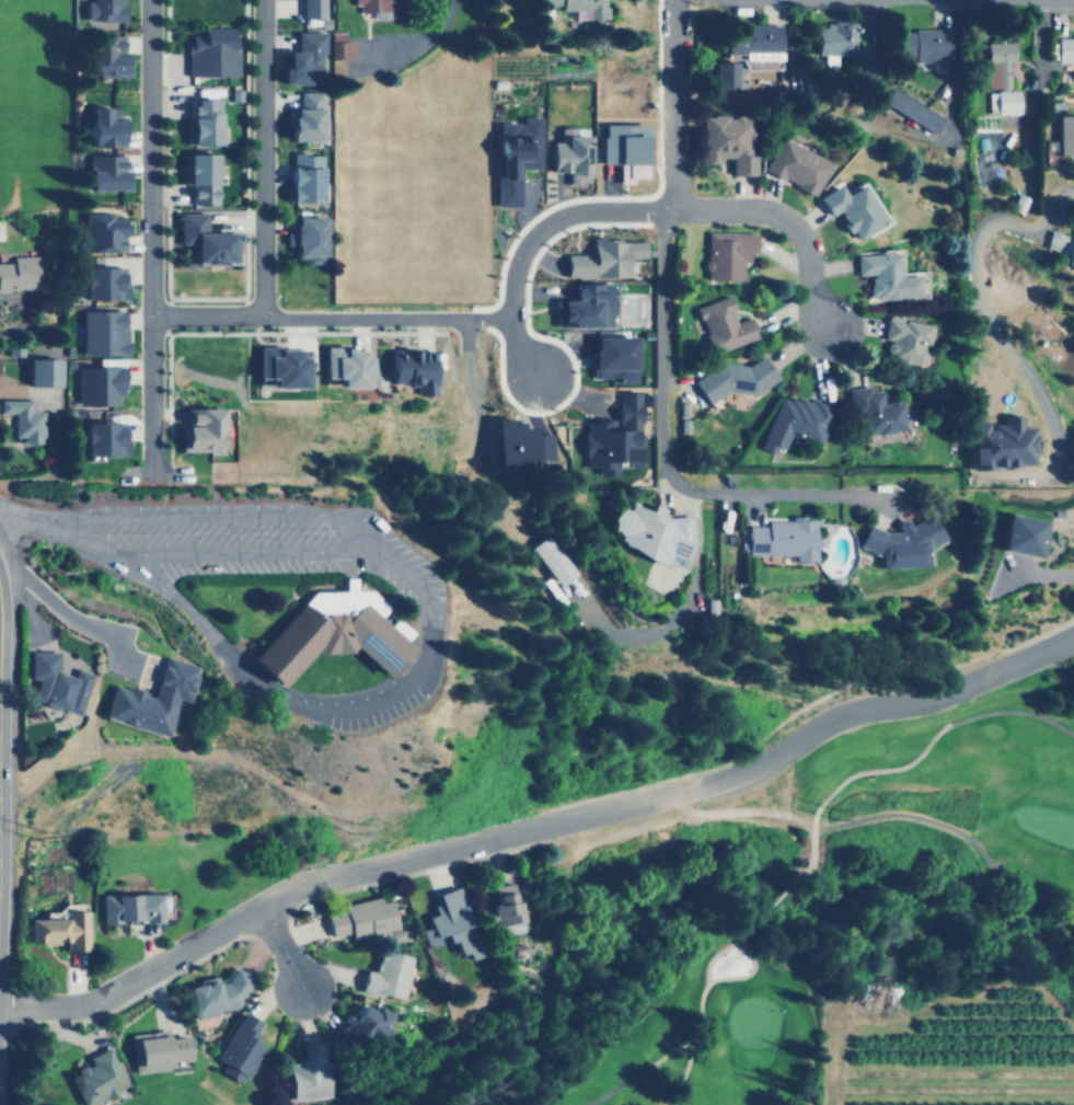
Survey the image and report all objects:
building: (636, 0)
building: (371, 4)
building: (578, 7)
building: (311, 8)
building: (103, 10)
building: (835, 38)
building: (752, 41)
building: (923, 44)
building: (339, 45)
road: (420, 45)
building: (1065, 48)
building: (210, 53)
building: (103, 54)
building: (302, 58)
building: (997, 62)
building: (725, 72)
building: (1003, 101)
park: (24, 103)
building: (913, 110)
building: (303, 116)
building: (203, 120)
building: (102, 127)
building: (1064, 134)
building: (727, 140)
building: (622, 148)
building: (567, 153)
building: (512, 156)
road: (262, 157)
building: (795, 164)
building: (104, 171)
building: (303, 176)
building: (200, 177)
building: (850, 208)
road: (786, 222)
building: (100, 232)
road: (150, 235)
building: (308, 238)
road: (532, 239)
building: (201, 240)
building: (1062, 245)
building: (727, 254)
building: (602, 257)
building: (18, 272)
building: (885, 275)
building: (102, 281)
building: (586, 304)
road: (330, 318)
building: (723, 324)
building: (103, 332)
road: (984, 333)
road: (659, 336)
building: (904, 339)
road: (462, 346)
building: (611, 357)
building: (279, 366)
building: (344, 366)
building: (409, 368)
building: (42, 371)
building: (732, 378)
building: (97, 384)
building: (874, 410)
building: (23, 419)
building: (794, 421)
building: (198, 428)
building: (612, 435)
building: (102, 438)
building: (1000, 442)
building: (516, 446)
road: (170, 484)
road: (31, 521)
building: (651, 532)
building: (1020, 533)
building: (782, 538)
building: (899, 542)
road: (239, 550)
building: (553, 559)
road: (682, 605)
road: (30, 609)
road: (71, 621)
building: (331, 633)
road: (415, 652)
building: (55, 682)
building: (151, 699)
road: (902, 766)
road: (674, 792)
road: (950, 828)
park: (742, 853)
road: (778, 895)
building: (129, 908)
building: (503, 909)
building: (360, 919)
building: (451, 924)
building: (60, 928)
road: (279, 948)
road: (712, 953)
building: (385, 975)
road: (135, 978)
road: (706, 980)
building: (216, 993)
building: (363, 1023)
building: (240, 1048)
building: (155, 1050)
road: (636, 1071)
building: (307, 1072)
building: (95, 1078)
park: (174, 1096)

